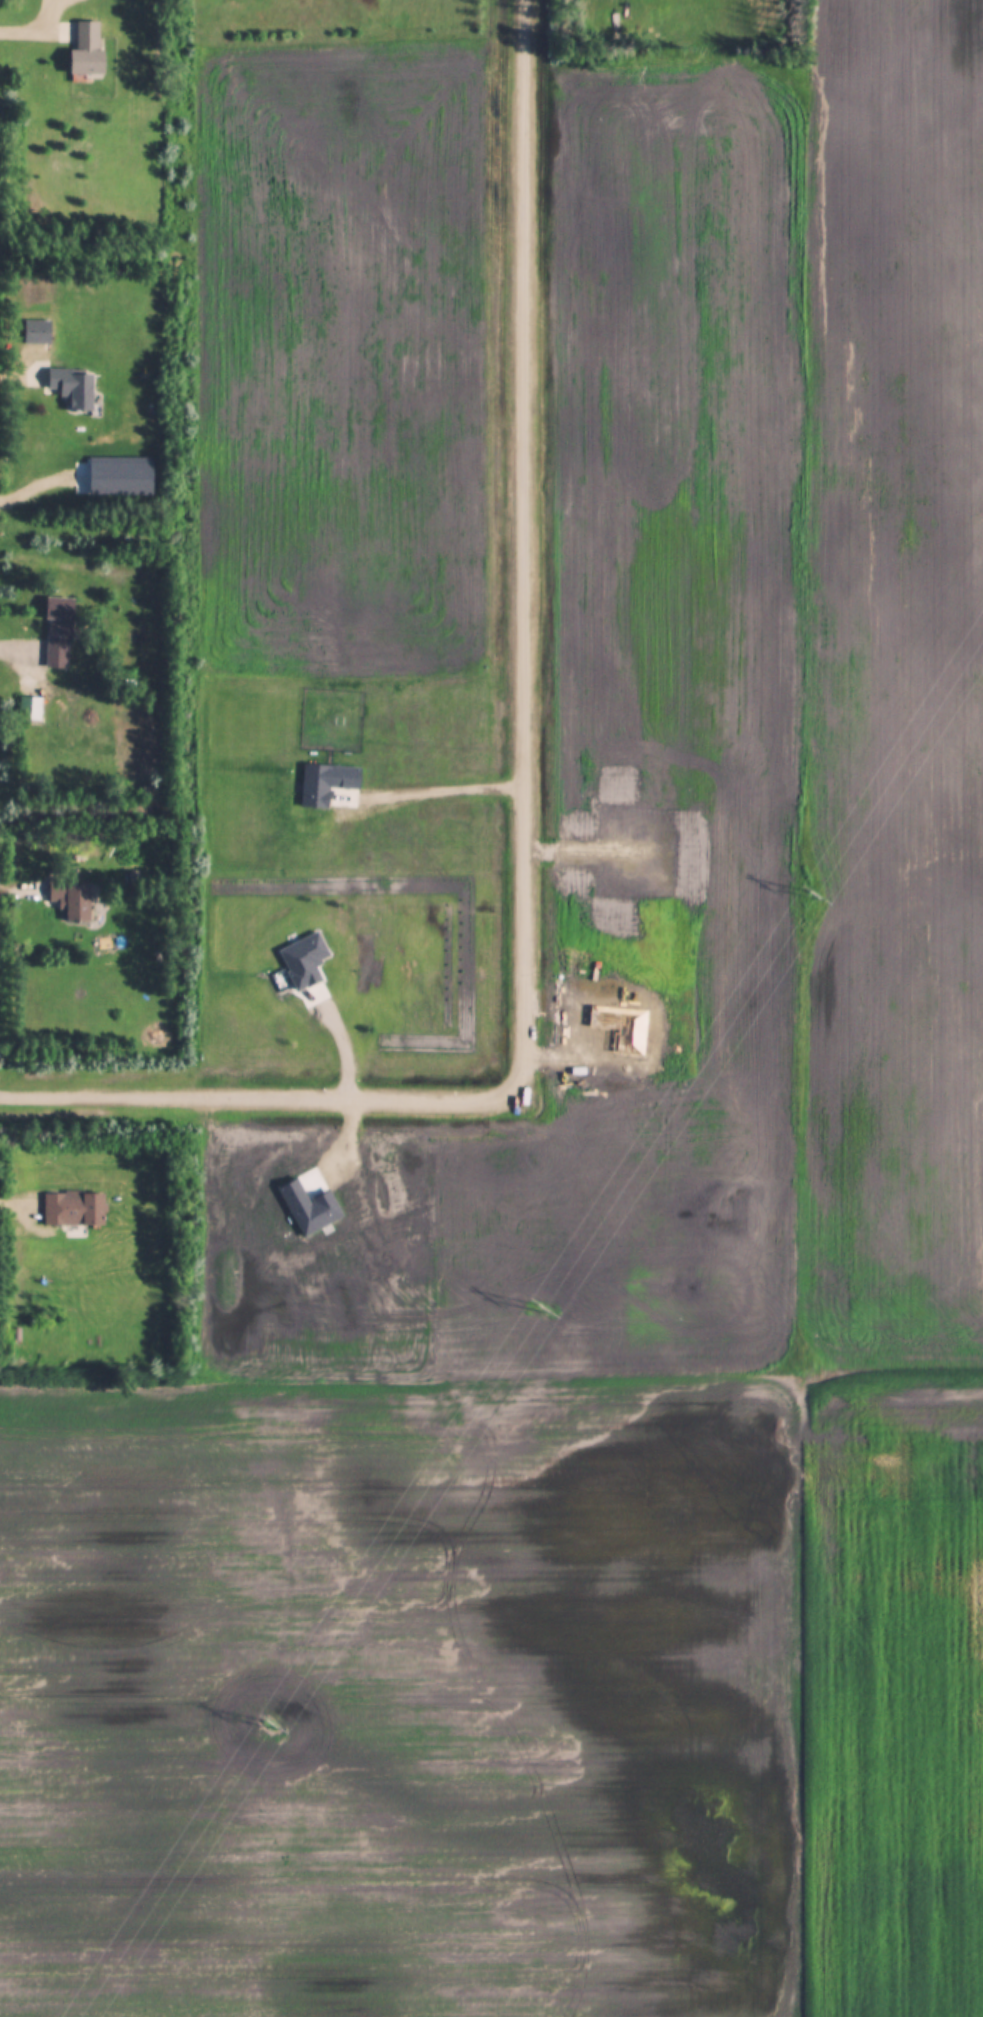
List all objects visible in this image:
building: (83, 48)
building: (37, 333)
building: (73, 389)
crop: (337, 561)
building: (59, 634)
building: (30, 709)
road: (516, 805)
power tower: (812, 895)
building: (72, 900)
road: (13, 1199)
building: (74, 1209)
crop: (608, 1224)
power tower: (540, 1308)
power tower: (266, 1725)

